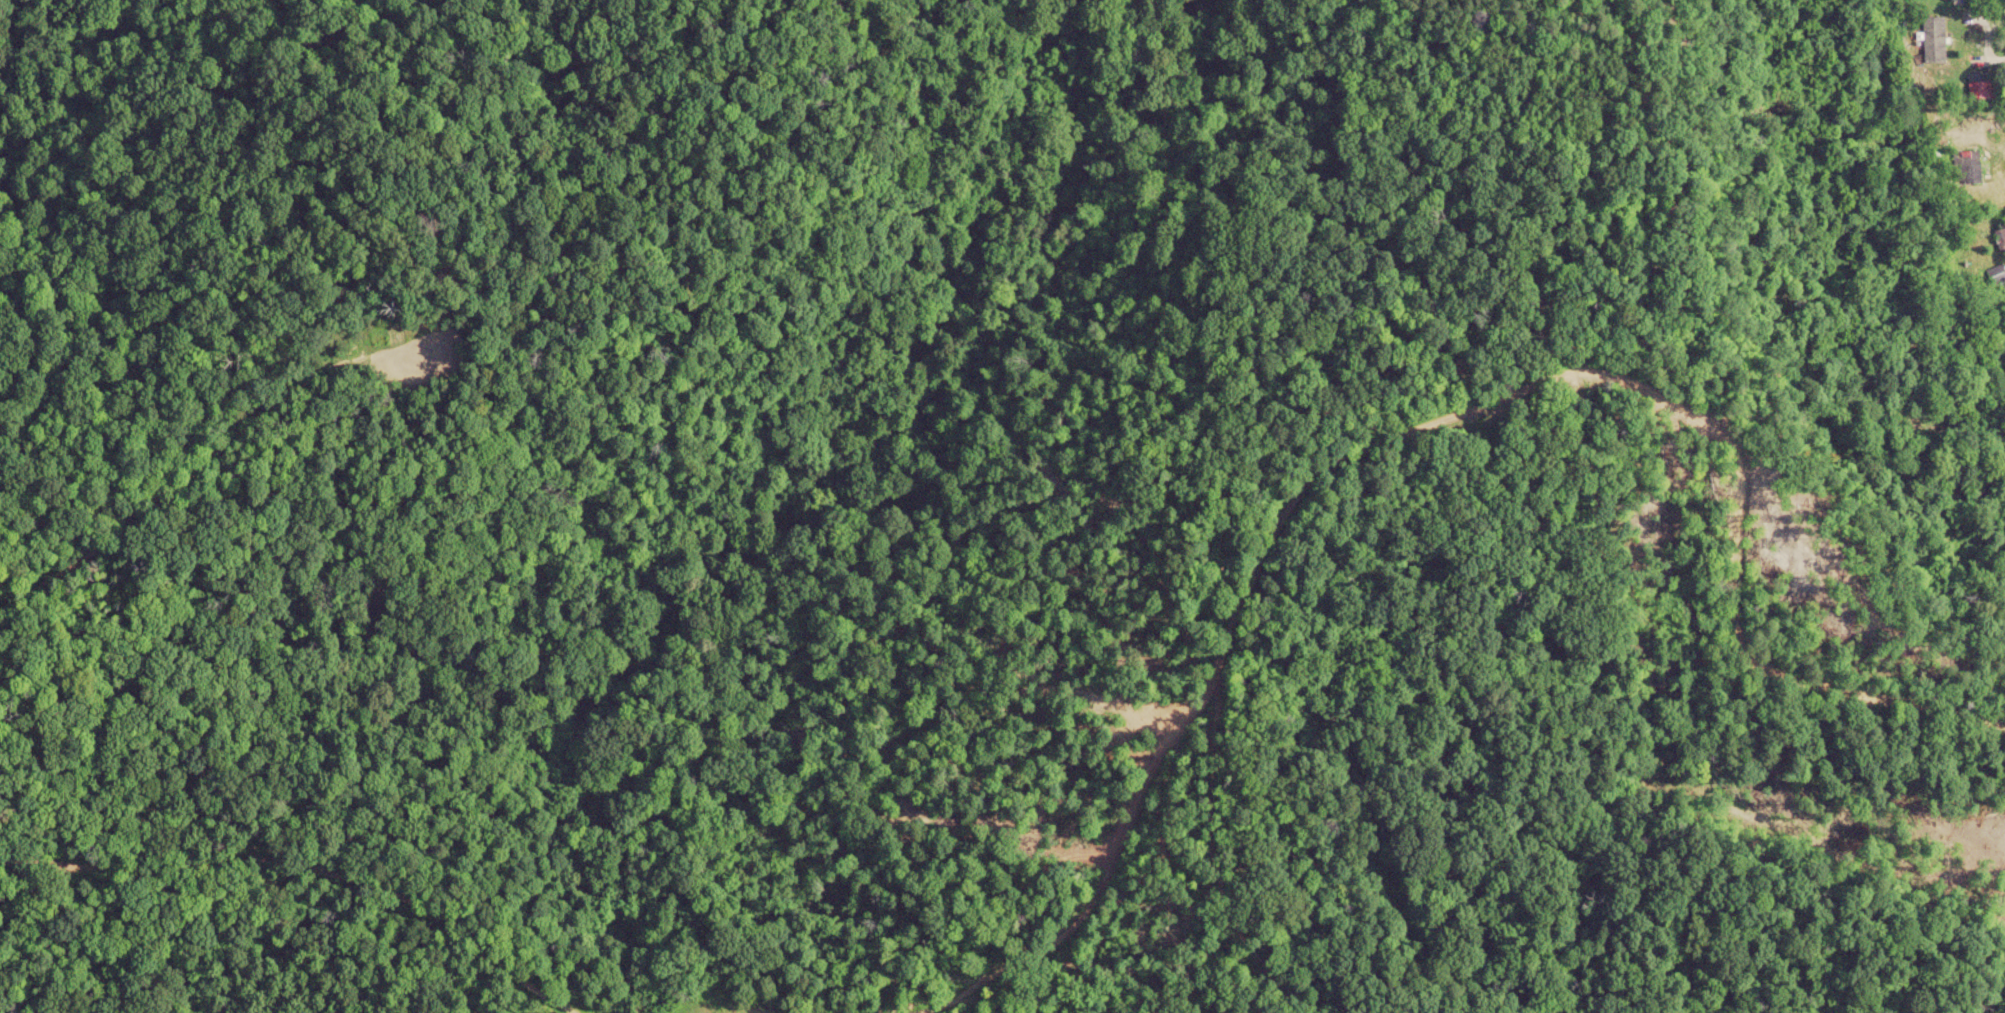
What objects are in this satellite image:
building: (1932, 39)
building: (1976, 82)
building: (1965, 168)
building: (2000, 238)
building: (1995, 274)

